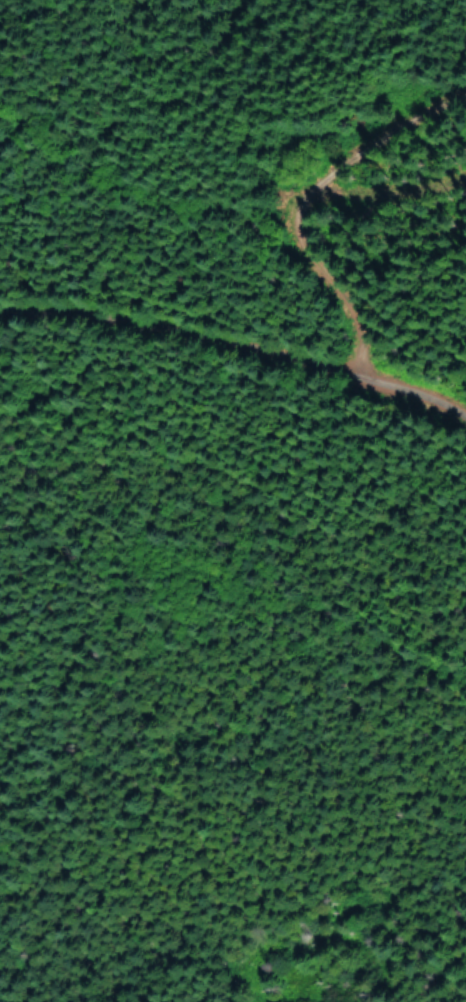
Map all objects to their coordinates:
road: (290, 183)
road: (242, 349)

